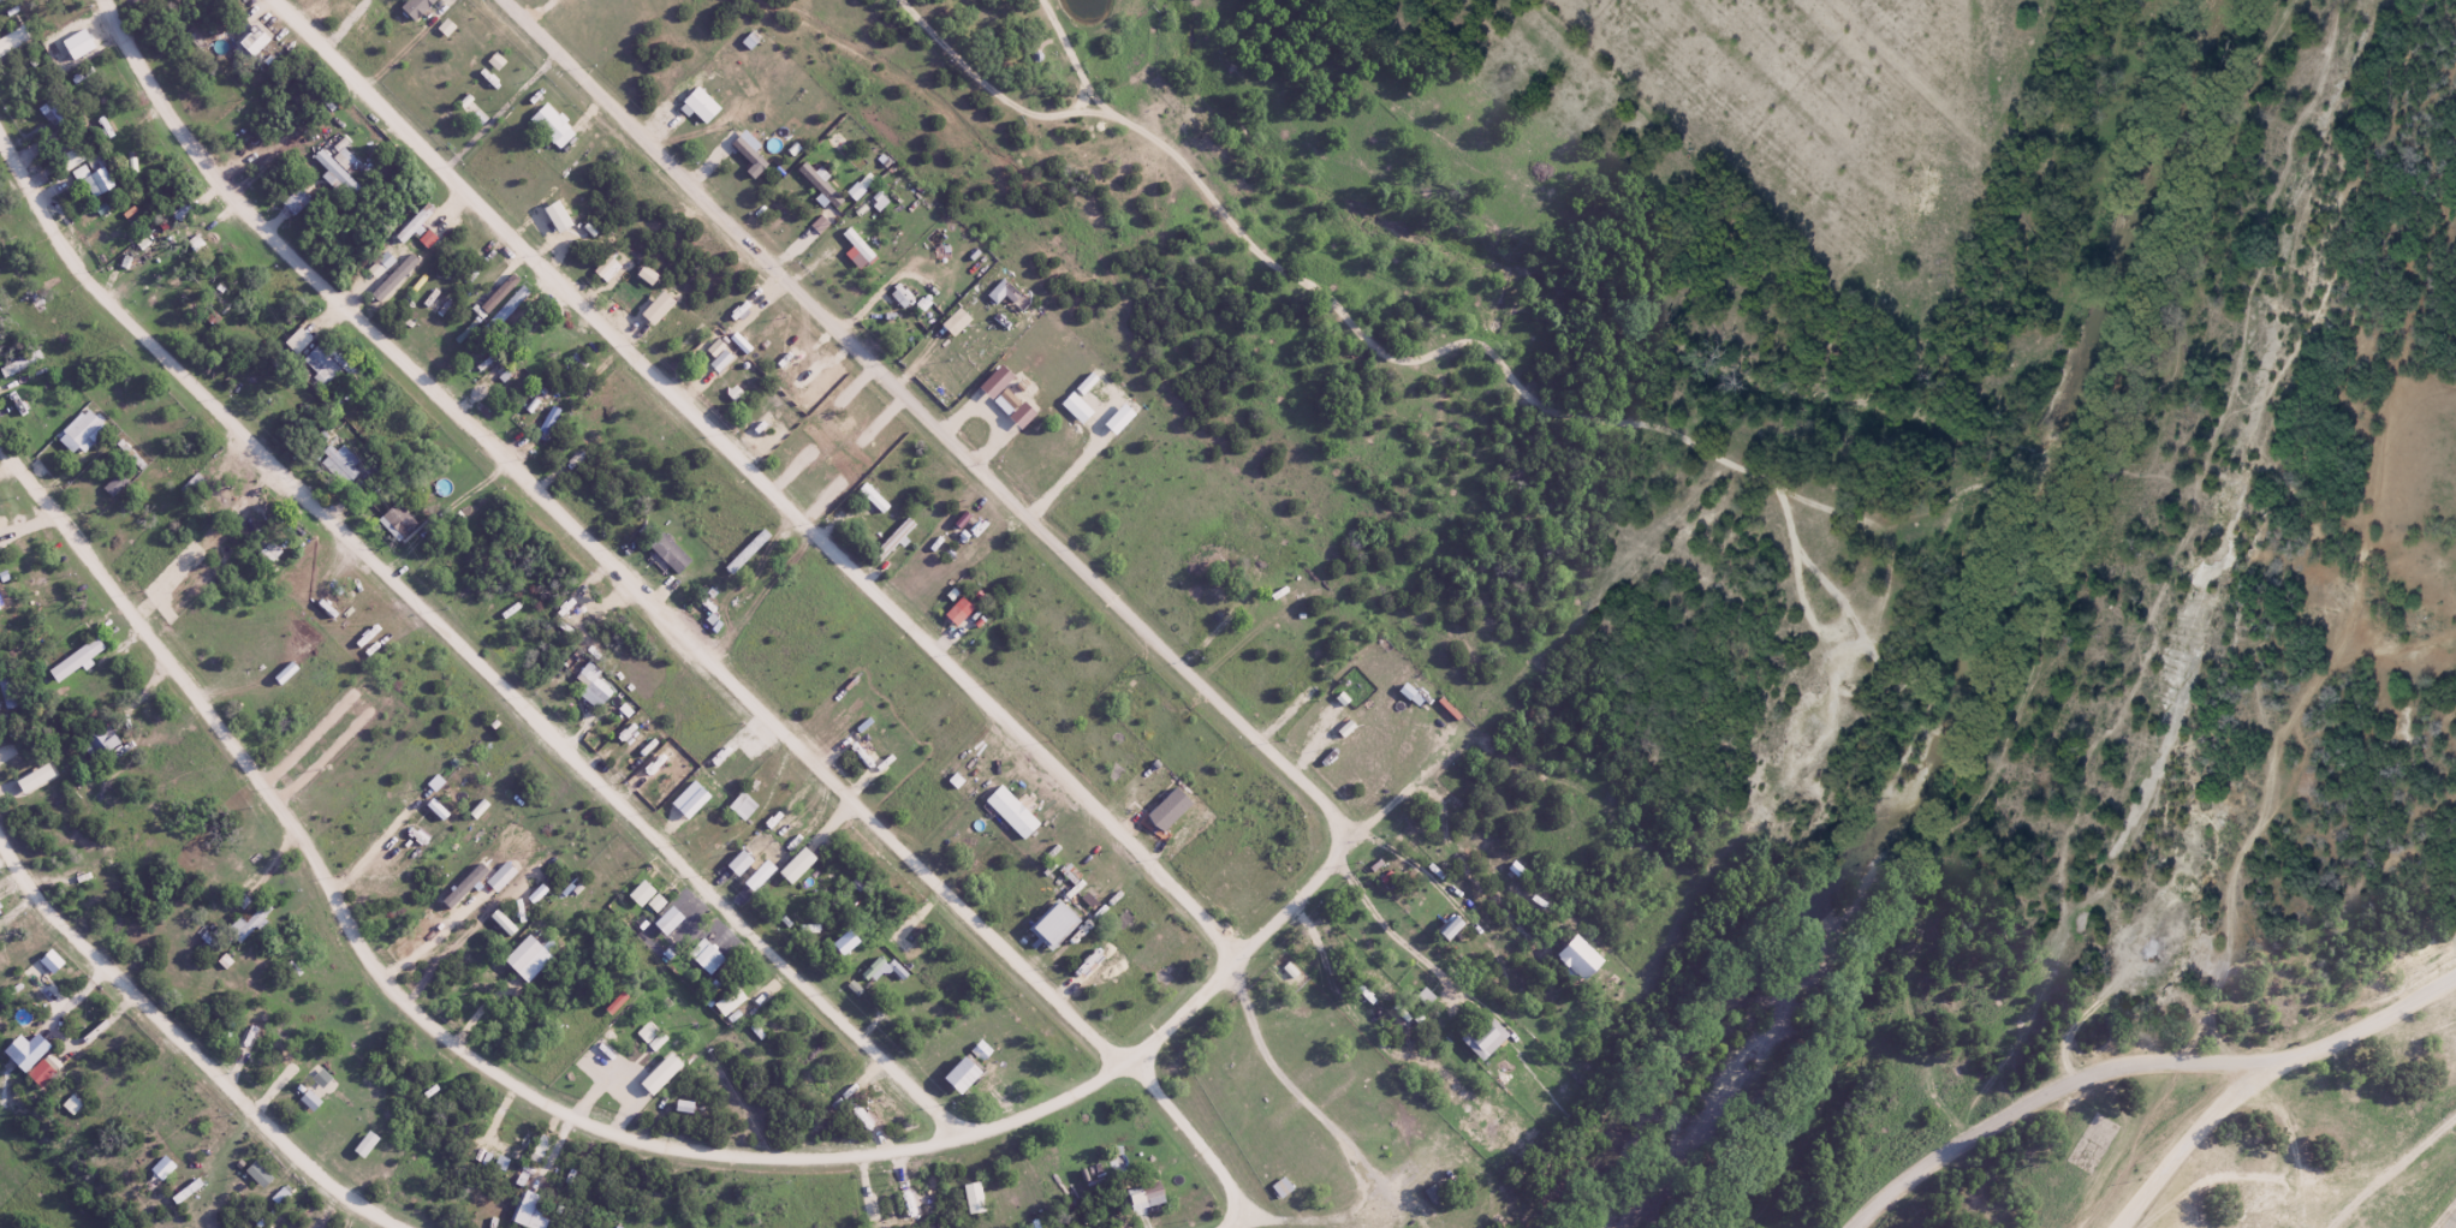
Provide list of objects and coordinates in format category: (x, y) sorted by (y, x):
building: (252, 41)
road: (1082, 60)
building: (52, 109)
building: (549, 126)
building: (335, 172)
building: (99, 179)
building: (857, 244)
road: (1350, 315)
building: (329, 363)
road: (938, 418)
building: (82, 428)
building: (339, 463)
road: (763, 472)
building: (114, 484)
building: (873, 499)
building: (396, 521)
building: (891, 541)
building: (269, 553)
building: (668, 553)
road: (673, 613)
road: (466, 638)
road: (1845, 642)
river: (1963, 649)
building: (76, 658)
building: (7, 688)
building: (591, 688)
building: (100, 743)
building: (1010, 813)
building: (242, 901)
building: (248, 923)
building: (1426, 997)
road: (194, 1036)
building: (1480, 1038)
road: (1375, 1039)
road: (2141, 1061)
building: (309, 1101)
road: (571, 1111)
road: (2183, 1138)
building: (496, 1140)
road: (2397, 1174)
building: (184, 1191)
building: (1147, 1197)
road: (1294, 1205)
building: (2445, 1217)

